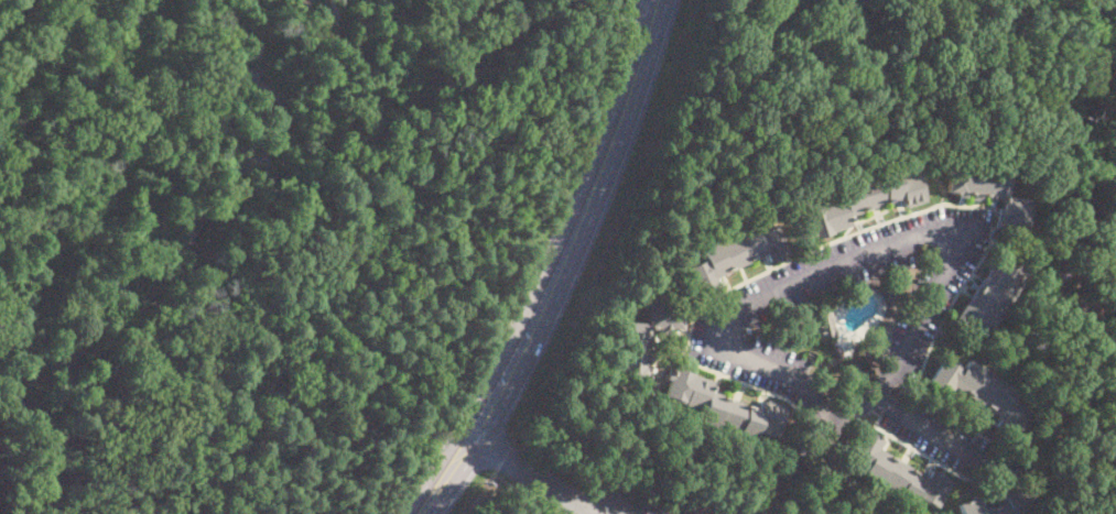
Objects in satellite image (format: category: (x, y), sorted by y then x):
building: (992, 195)
building: (863, 200)
building: (1073, 234)
building: (736, 254)
road: (557, 265)
road: (215, 274)
building: (1064, 275)
building: (990, 297)
building: (825, 324)
building: (647, 340)
road: (903, 352)
building: (879, 357)
building: (855, 367)
building: (982, 391)
building: (724, 406)
road: (947, 438)
parking lot: (954, 440)
building: (886, 462)
building: (918, 491)
building: (997, 503)
road: (587, 511)

